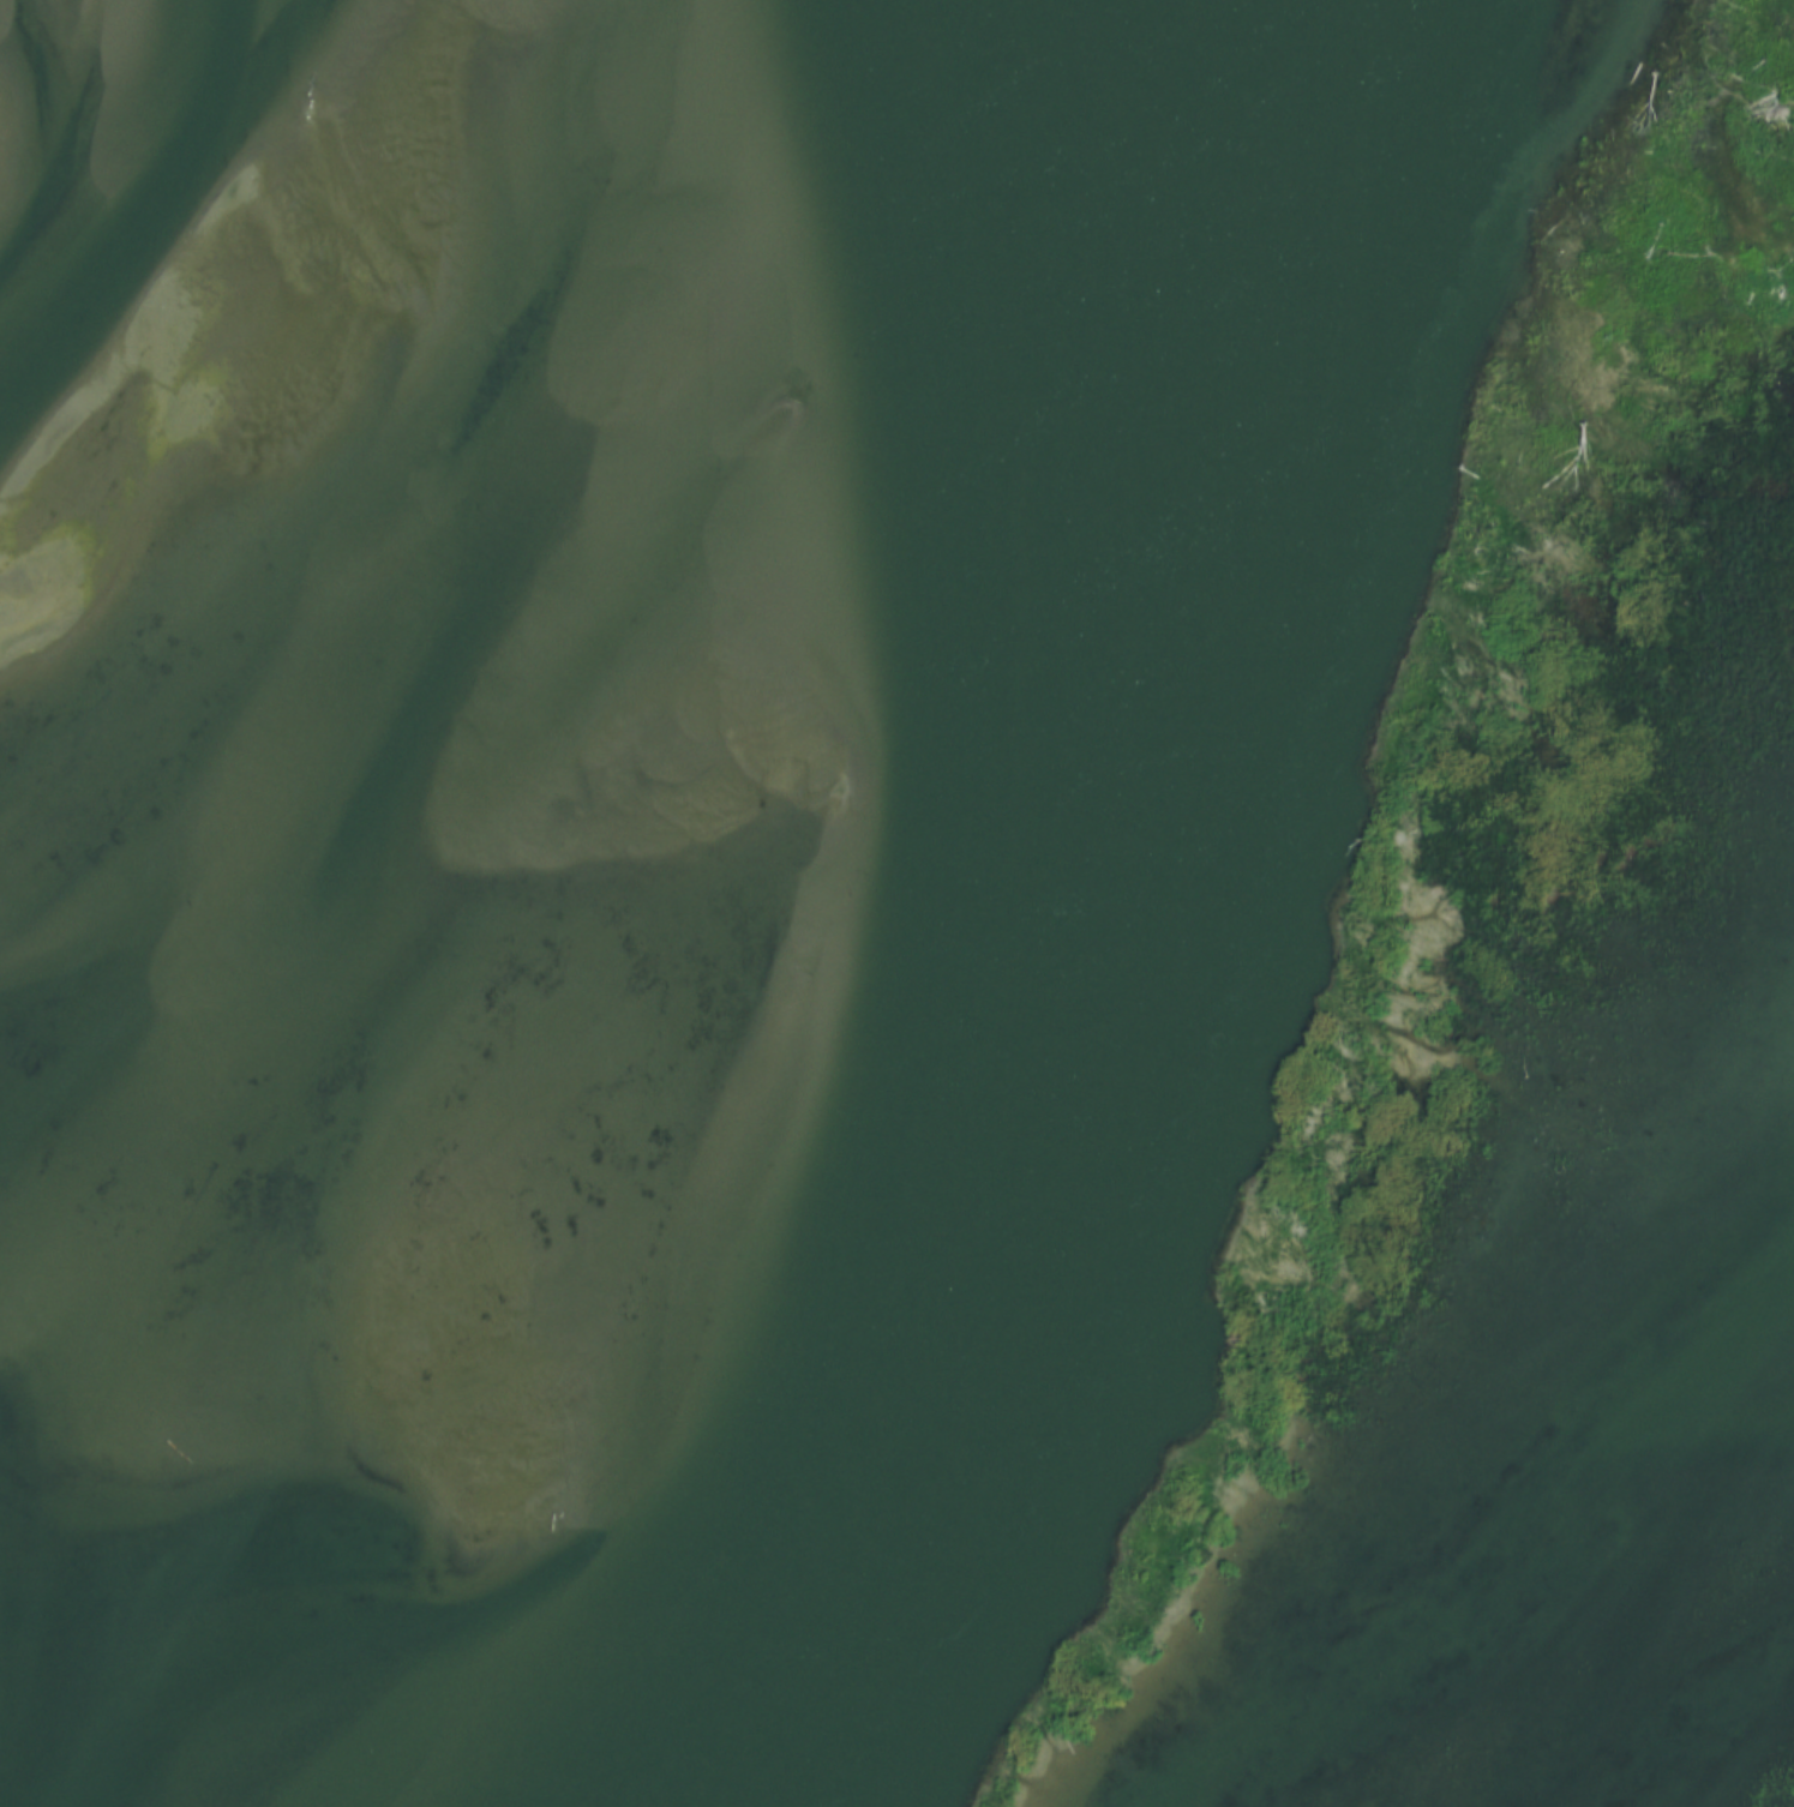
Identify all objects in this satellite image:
river: (140, 342)

